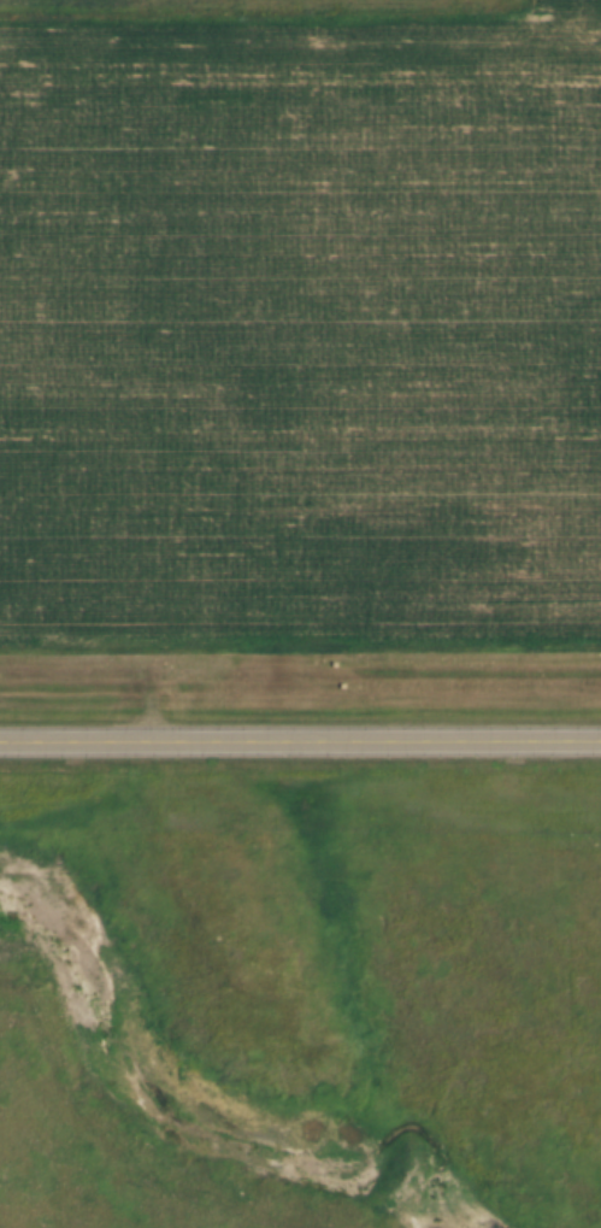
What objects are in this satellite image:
road: (300, 744)

